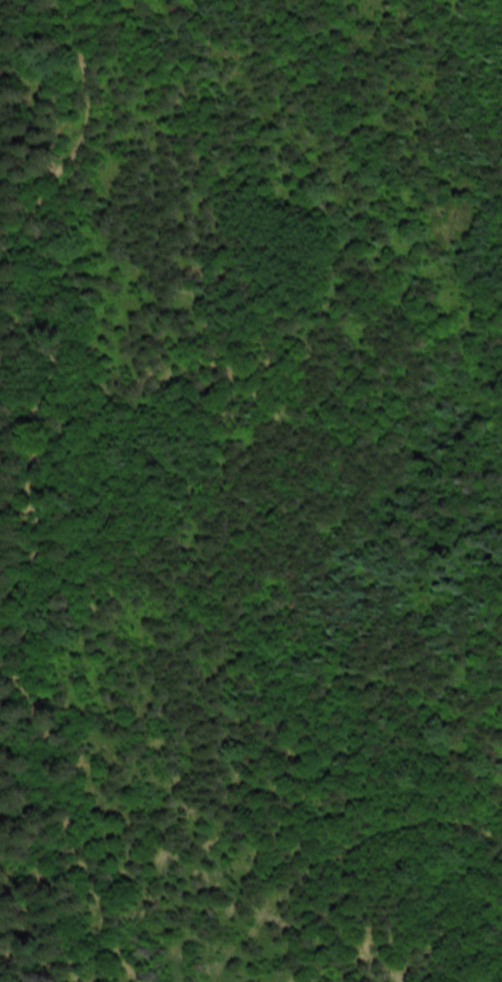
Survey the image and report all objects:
road: (35, 487)

